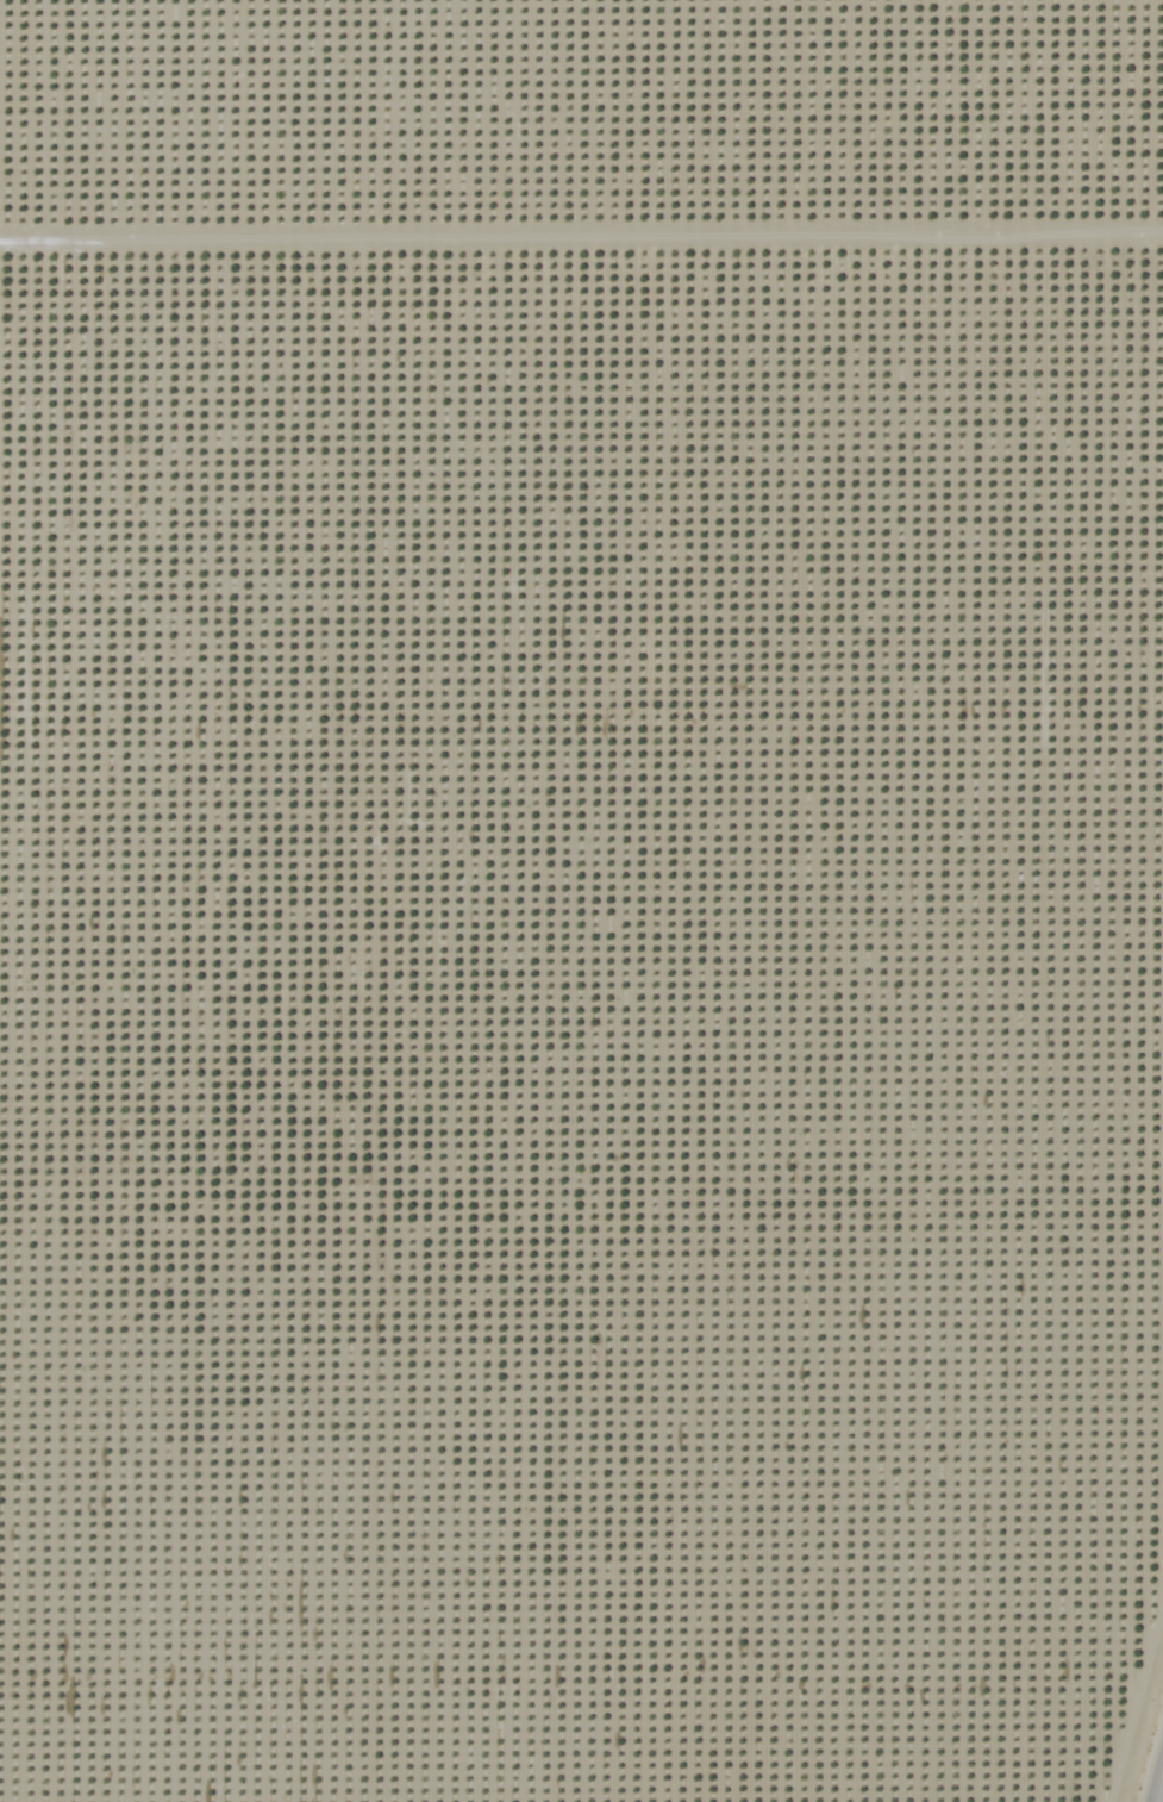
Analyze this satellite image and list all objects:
crop: (581, 900)
road: (1158, 1785)

